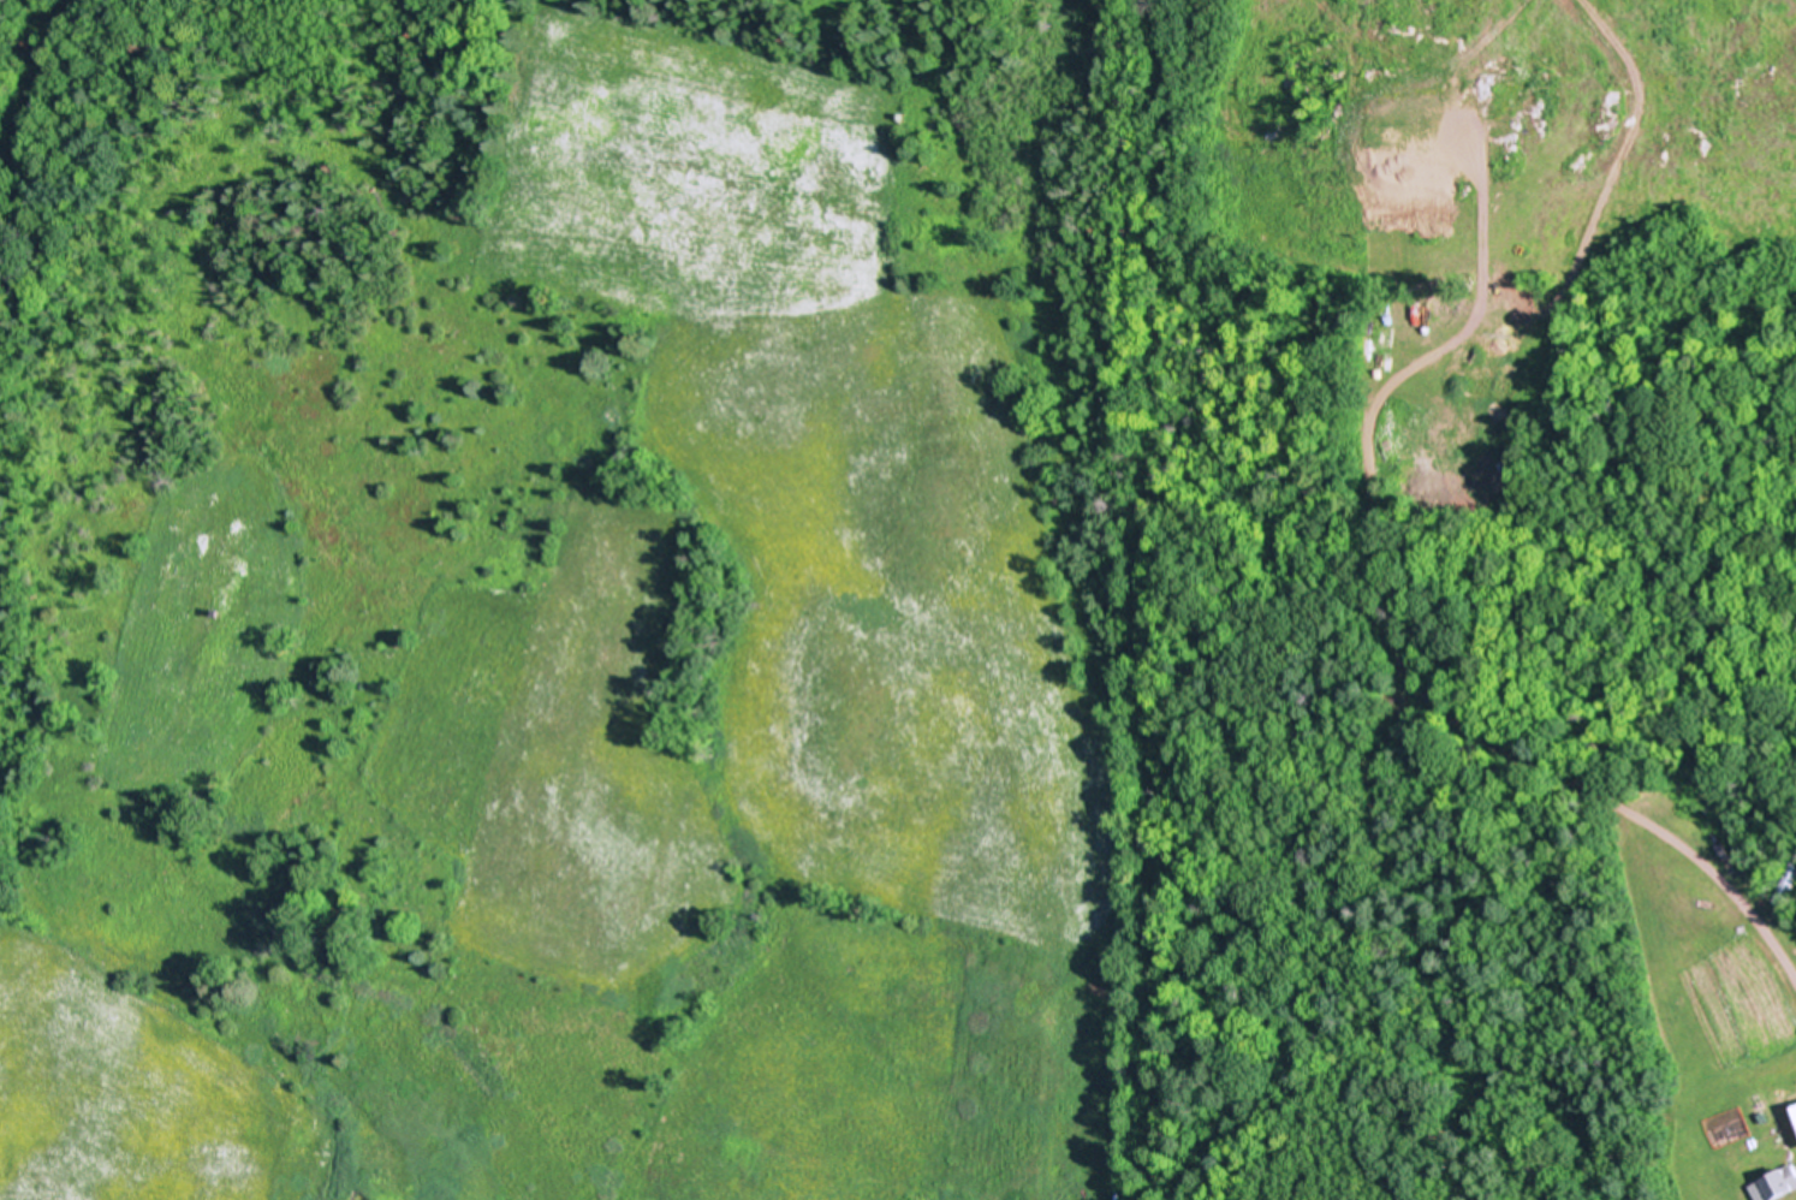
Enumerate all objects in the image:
building: (1788, 887)
building: (1794, 1115)
building: (1777, 1184)

